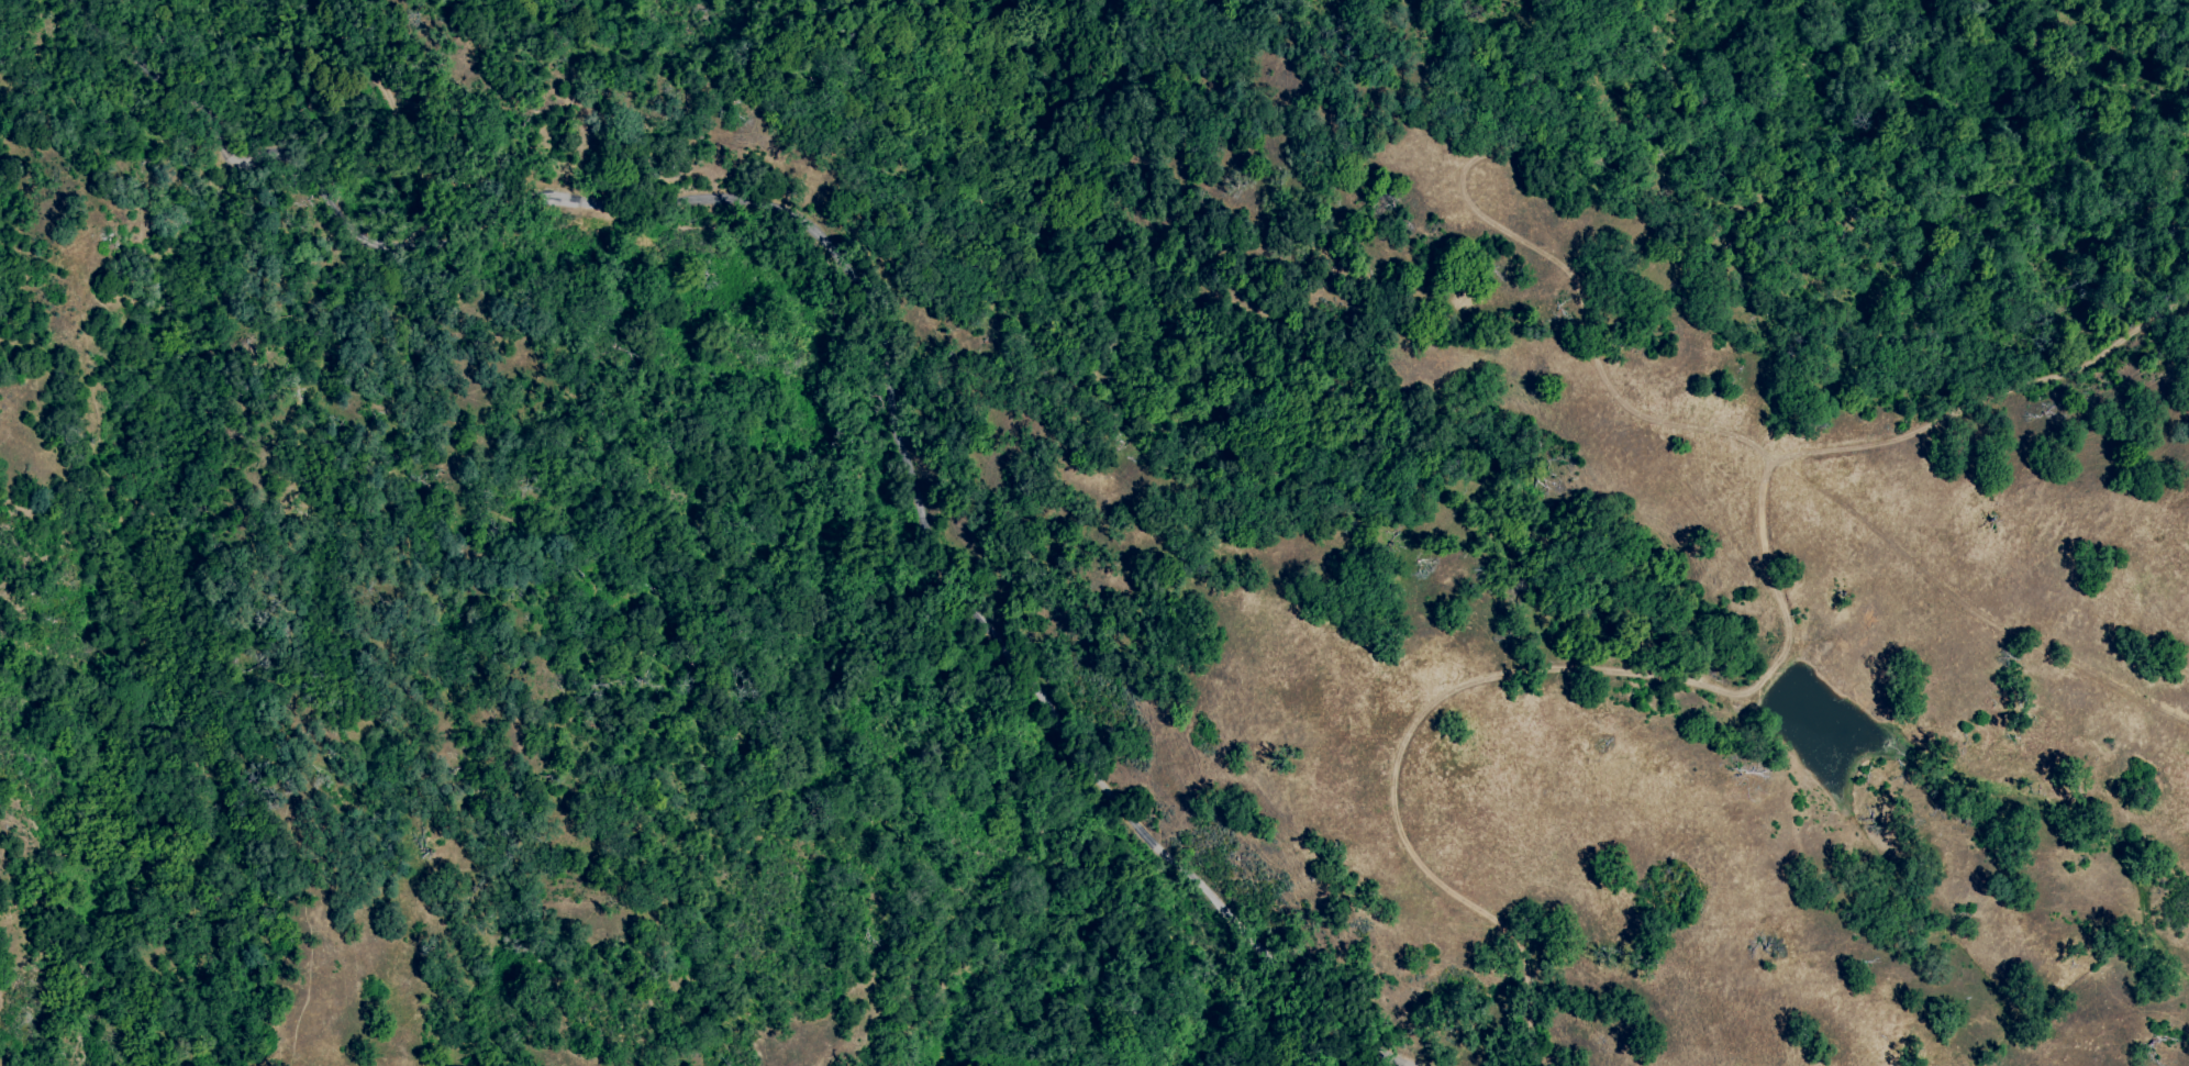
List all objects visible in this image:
road: (400, 191)
road: (2163, 315)
road: (1958, 412)
road: (1029, 696)

